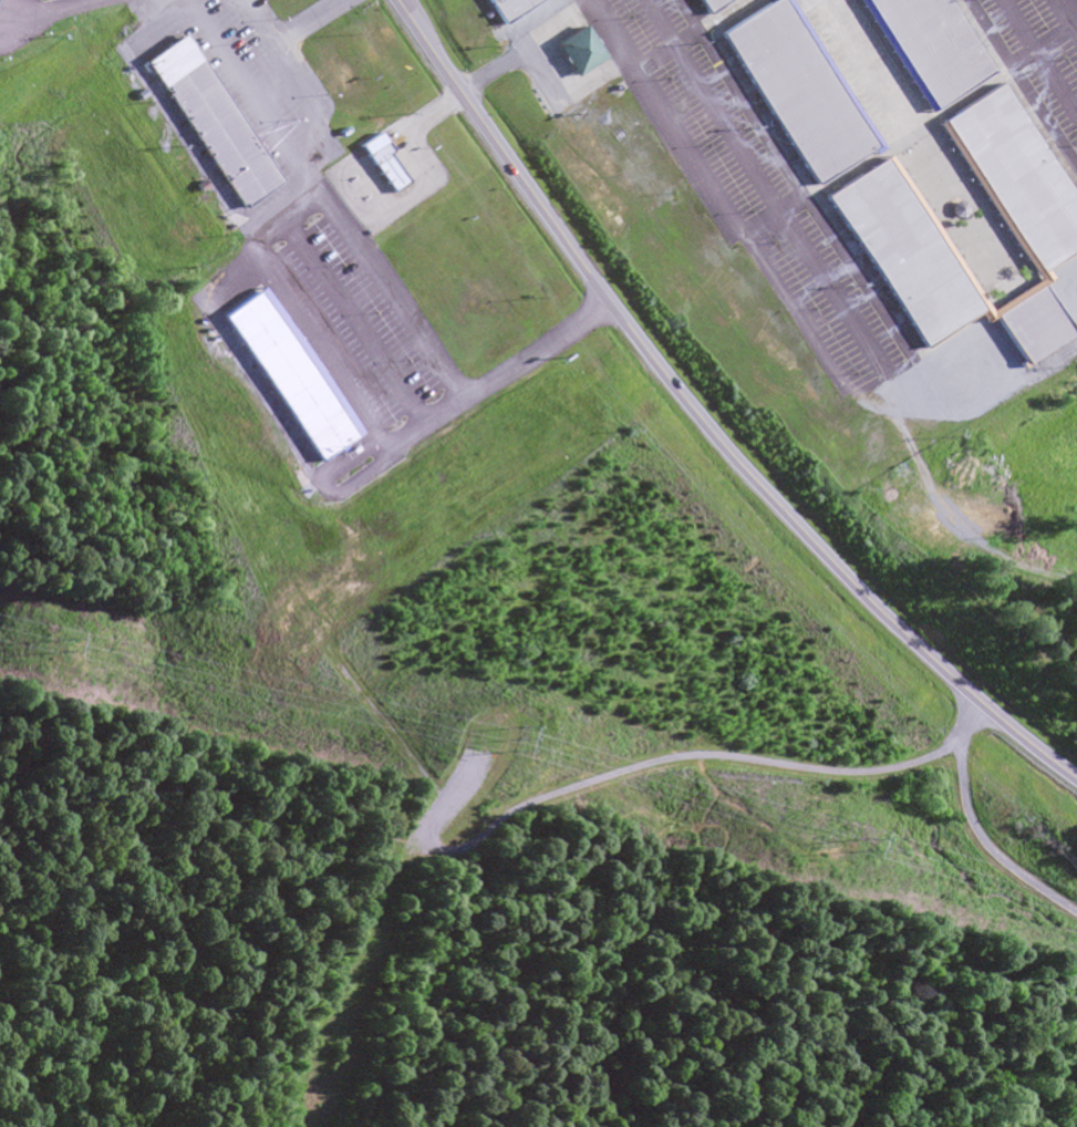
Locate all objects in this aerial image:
road: (1073, 8)
building: (511, 9)
road: (282, 38)
building: (578, 50)
road: (310, 114)
building: (208, 121)
building: (918, 157)
building: (385, 163)
road: (377, 275)
building: (290, 373)
road: (705, 416)
power tower: (64, 640)
power tower: (515, 740)
road: (975, 826)
power tower: (852, 844)

